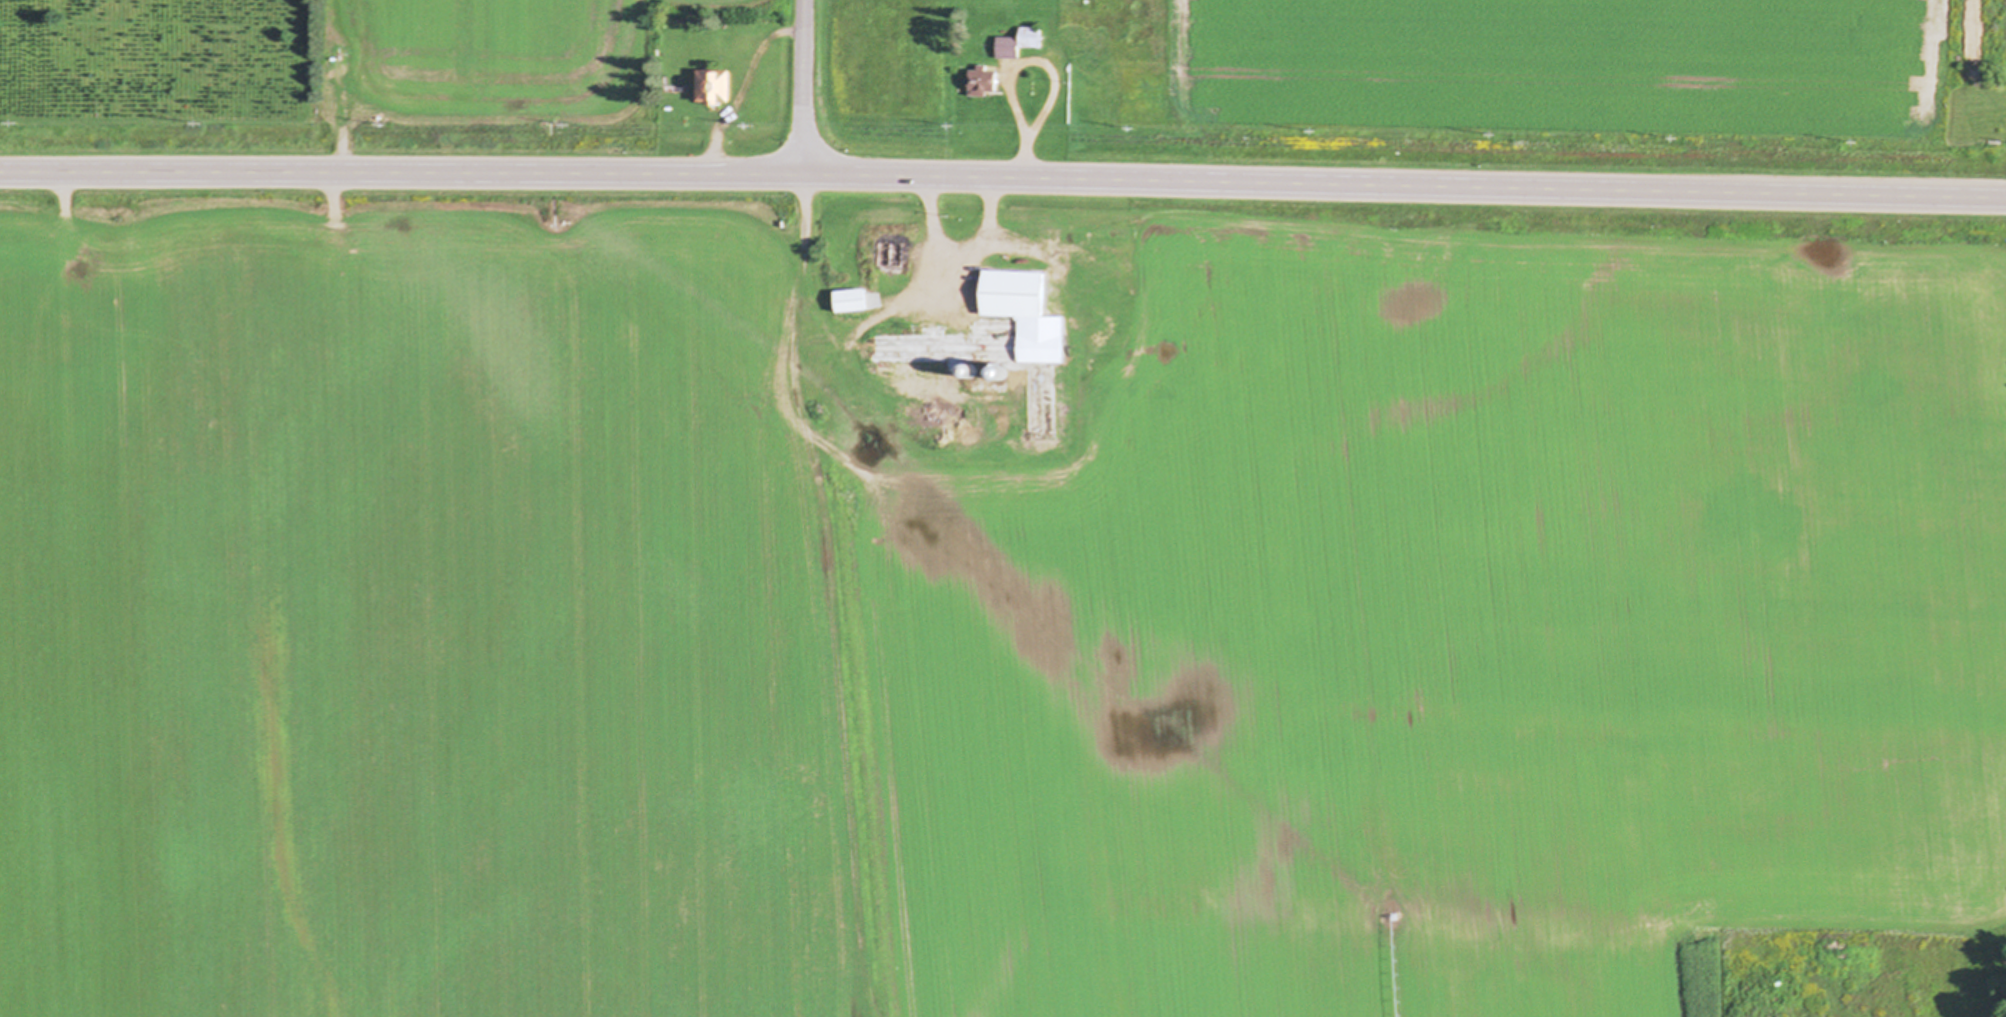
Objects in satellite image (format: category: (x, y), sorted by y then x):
building: (1018, 44)
building: (983, 82)
road: (742, 87)
road: (802, 87)
building: (716, 88)
road: (1008, 91)
road: (1047, 98)
power tower: (201, 124)
power tower: (564, 124)
power tower: (15, 125)
power tower: (385, 125)
power tower: (749, 128)
power tower: (955, 128)
power tower: (1132, 129)
power tower: (1312, 131)
power tower: (1495, 136)
power tower: (1674, 140)
power tower: (1859, 146)
road: (1024, 161)
road: (1003, 179)
road: (64, 219)
building: (892, 255)
road: (959, 255)
building: (27, 262)
building: (852, 301)
building: (989, 330)

